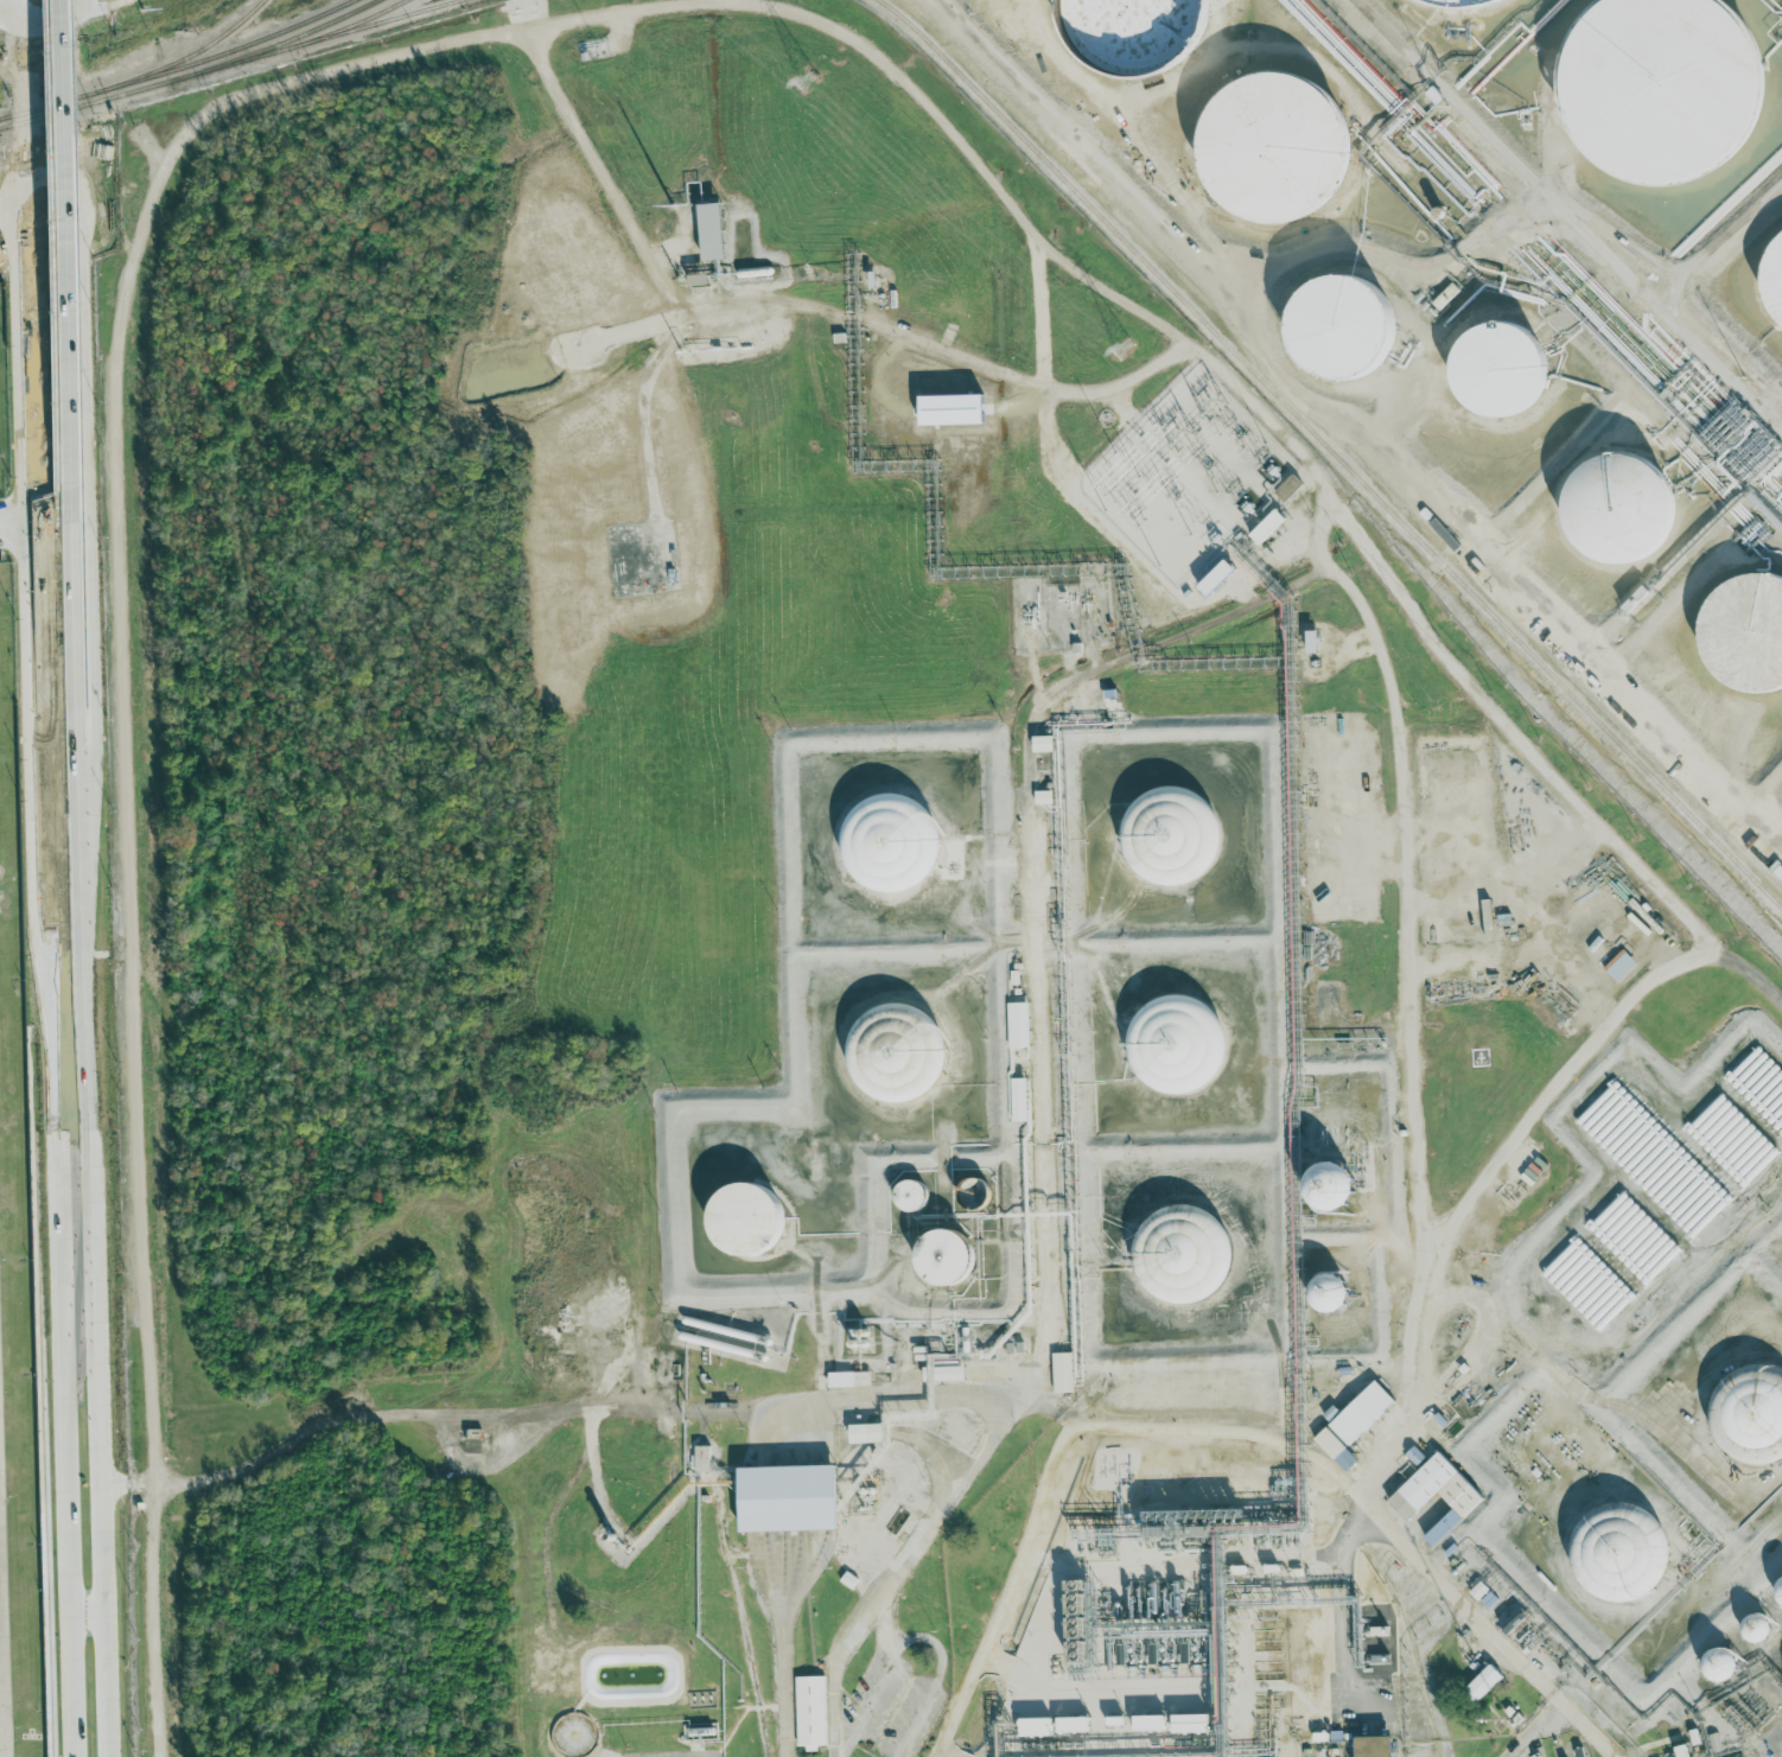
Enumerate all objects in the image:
building: (1468, 2)
storage tank: (1468, 2)
road: (91, 13)
power tower: (132, 17)
road: (561, 24)
railway: (350, 26)
building: (1139, 31)
storage tank: (1139, 31)
railway: (314, 39)
railway: (275, 44)
railway: (225, 52)
railway: (185, 57)
road: (13, 65)
power tower: (809, 83)
building: (1660, 89)
storage tank: (1660, 89)
railway: (84, 104)
railway: (47, 106)
building: (1272, 149)
storage tank: (1272, 149)
road: (14, 166)
road: (1570, 214)
building: (711, 231)
road: (1721, 246)
road: (62, 268)
building: (1774, 279)
storage tank: (1774, 279)
road: (785, 307)
road: (1038, 313)
building: (1342, 327)
storage tank: (1342, 327)
power tower: (1125, 348)
building: (1501, 368)
storage tank: (1501, 368)
railway: (1332, 452)
power substation: (1230, 456)
building: (1288, 489)
building: (1621, 503)
storage tank: (1621, 503)
building: (1267, 527)
road: (34, 539)
road: (70, 575)
building: (1216, 578)
building: (1742, 635)
storage tank: (1742, 635)
building: (1311, 642)
road: (1515, 737)
road: (1126, 738)
building: (1043, 744)
building: (1043, 797)
storage tank: (1171, 835)
building: (1170, 836)
storage tank: (885, 847)
road: (1557, 865)
road: (785, 867)
road: (49, 878)
road: (1496, 879)
building: (1330, 906)
building: (1619, 966)
building: (1018, 1025)
building: (1176, 1043)
storage tank: (1178, 1044)
building: (887, 1051)
storage tank: (895, 1052)
building: (1019, 1099)
road: (1507, 1166)
road: (90, 1184)
building: (1329, 1188)
building: (969, 1189)
building: (910, 1195)
building: (745, 1217)
building: (944, 1255)
storage tank: (1184, 1256)
building: (1326, 1291)
building: (1062, 1373)
building: (860, 1377)
building: (1752, 1405)
road: (568, 1408)
building: (1361, 1412)
storage tank: (1749, 1412)
road: (1608, 1418)
building: (866, 1432)
building: (1335, 1449)
building: (1414, 1456)
building: (701, 1458)
road: (119, 1484)
building: (787, 1497)
building: (1409, 1498)
road: (1353, 1501)
road: (925, 1535)
building: (1619, 1552)
storage tank: (1619, 1552)
road: (1016, 1577)
building: (1478, 1590)
building: (1778, 1590)
road: (1343, 1609)
road: (151, 1621)
building: (1719, 1663)
road: (941, 1667)
building: (1484, 1682)
road: (783, 1683)
building: (810, 1712)
road: (0, 1715)
road: (1, 1715)
building: (1073, 1724)
building: (1036, 1726)
building: (1714, 1742)
building: (1374, 1746)
building: (1681, 1750)
building: (1731, 1755)

